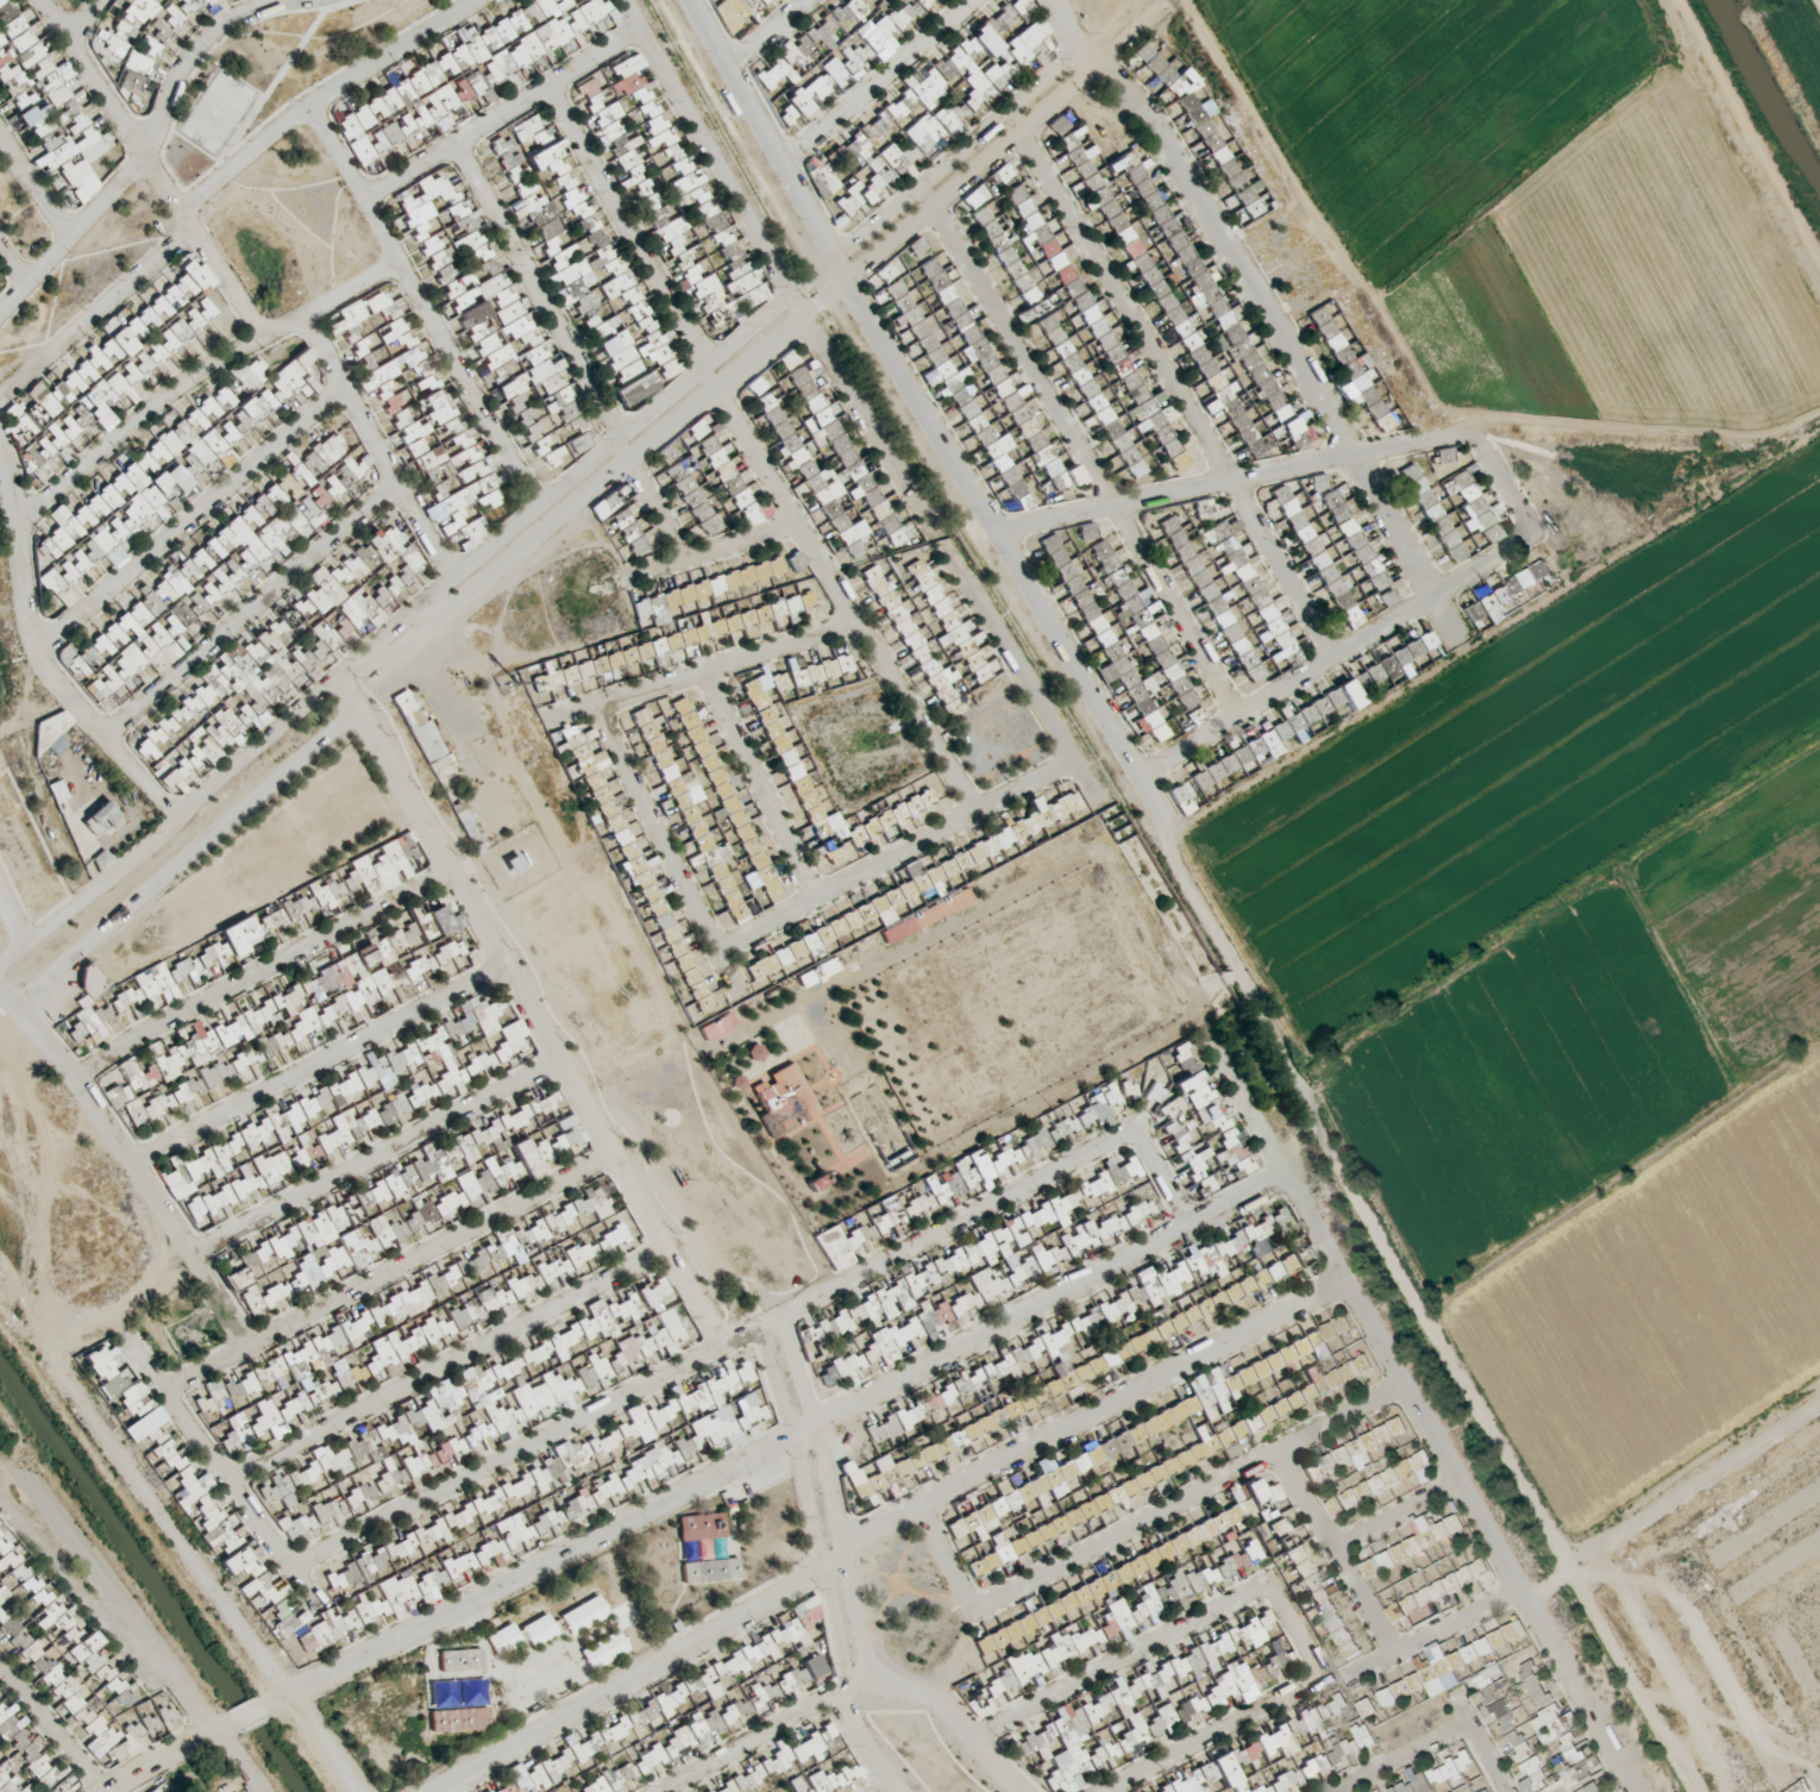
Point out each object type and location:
road: (86, 20)
road: (1111, 26)
road: (766, 32)
road: (1071, 35)
road: (1110, 55)
park: (277, 75)
road: (883, 81)
road: (322, 96)
road: (500, 114)
road: (765, 131)
road: (1745, 137)
road: (150, 139)
road: (708, 150)
road: (155, 168)
road: (1317, 221)
road: (629, 227)
building: (1036, 280)
road: (538, 293)
road: (423, 307)
road: (95, 314)
road: (747, 339)
road: (1286, 346)
road: (755, 353)
road: (197, 380)
road: (1174, 386)
road: (865, 414)
road: (379, 449)
road: (1081, 452)
road: (1230, 483)
road: (1501, 489)
road: (653, 502)
road: (193, 518)
road: (1004, 546)
road: (715, 552)
road: (839, 595)
road: (252, 612)
building: (1272, 622)
road: (1330, 659)
road: (703, 673)
road: (1027, 683)
building: (1142, 700)
road: (444, 721)
road: (761, 787)
road: (207, 797)
road: (667, 852)
road: (896, 858)
road: (514, 891)
road: (261, 969)
crop: (1588, 980)
road: (1213, 986)
road: (529, 1011)
road: (828, 1020)
road: (319, 1065)
road: (619, 1096)
road: (375, 1160)
parking lot: (691, 1160)
road: (1157, 1178)
road: (671, 1188)
road: (387, 1272)
road: (1422, 1316)
road: (709, 1354)
road: (448, 1367)
road: (1082, 1418)
road: (1420, 1418)
road: (787, 1439)
road: (834, 1495)
road: (1185, 1498)
road: (1397, 1520)
road: (941, 1550)
road: (1335, 1554)
road: (823, 1566)
road: (1267, 1592)
road: (1435, 1635)
road: (1656, 1659)
road: (1717, 1675)
road: (628, 1678)
road: (1696, 1715)
road: (956, 1723)
road: (767, 1731)
road: (1479, 1747)
road: (1406, 1759)
road: (1819, 1780)

